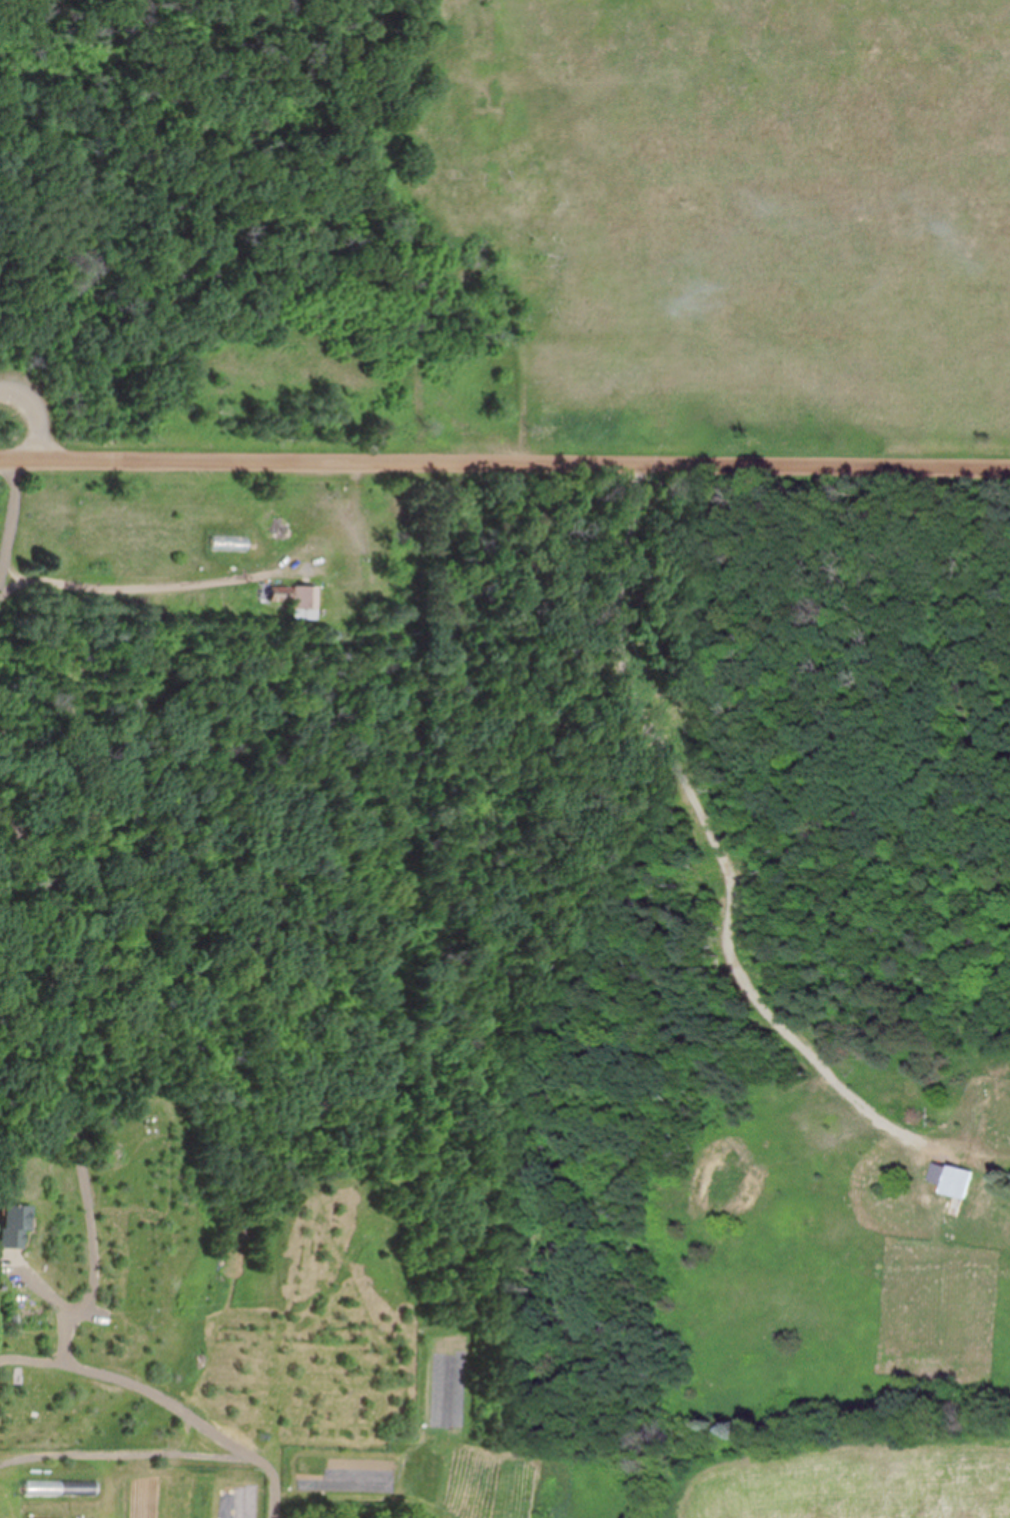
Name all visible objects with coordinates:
park: (510, 209)
road: (504, 463)
building: (293, 601)
road: (192, 824)
building: (9, 1226)

